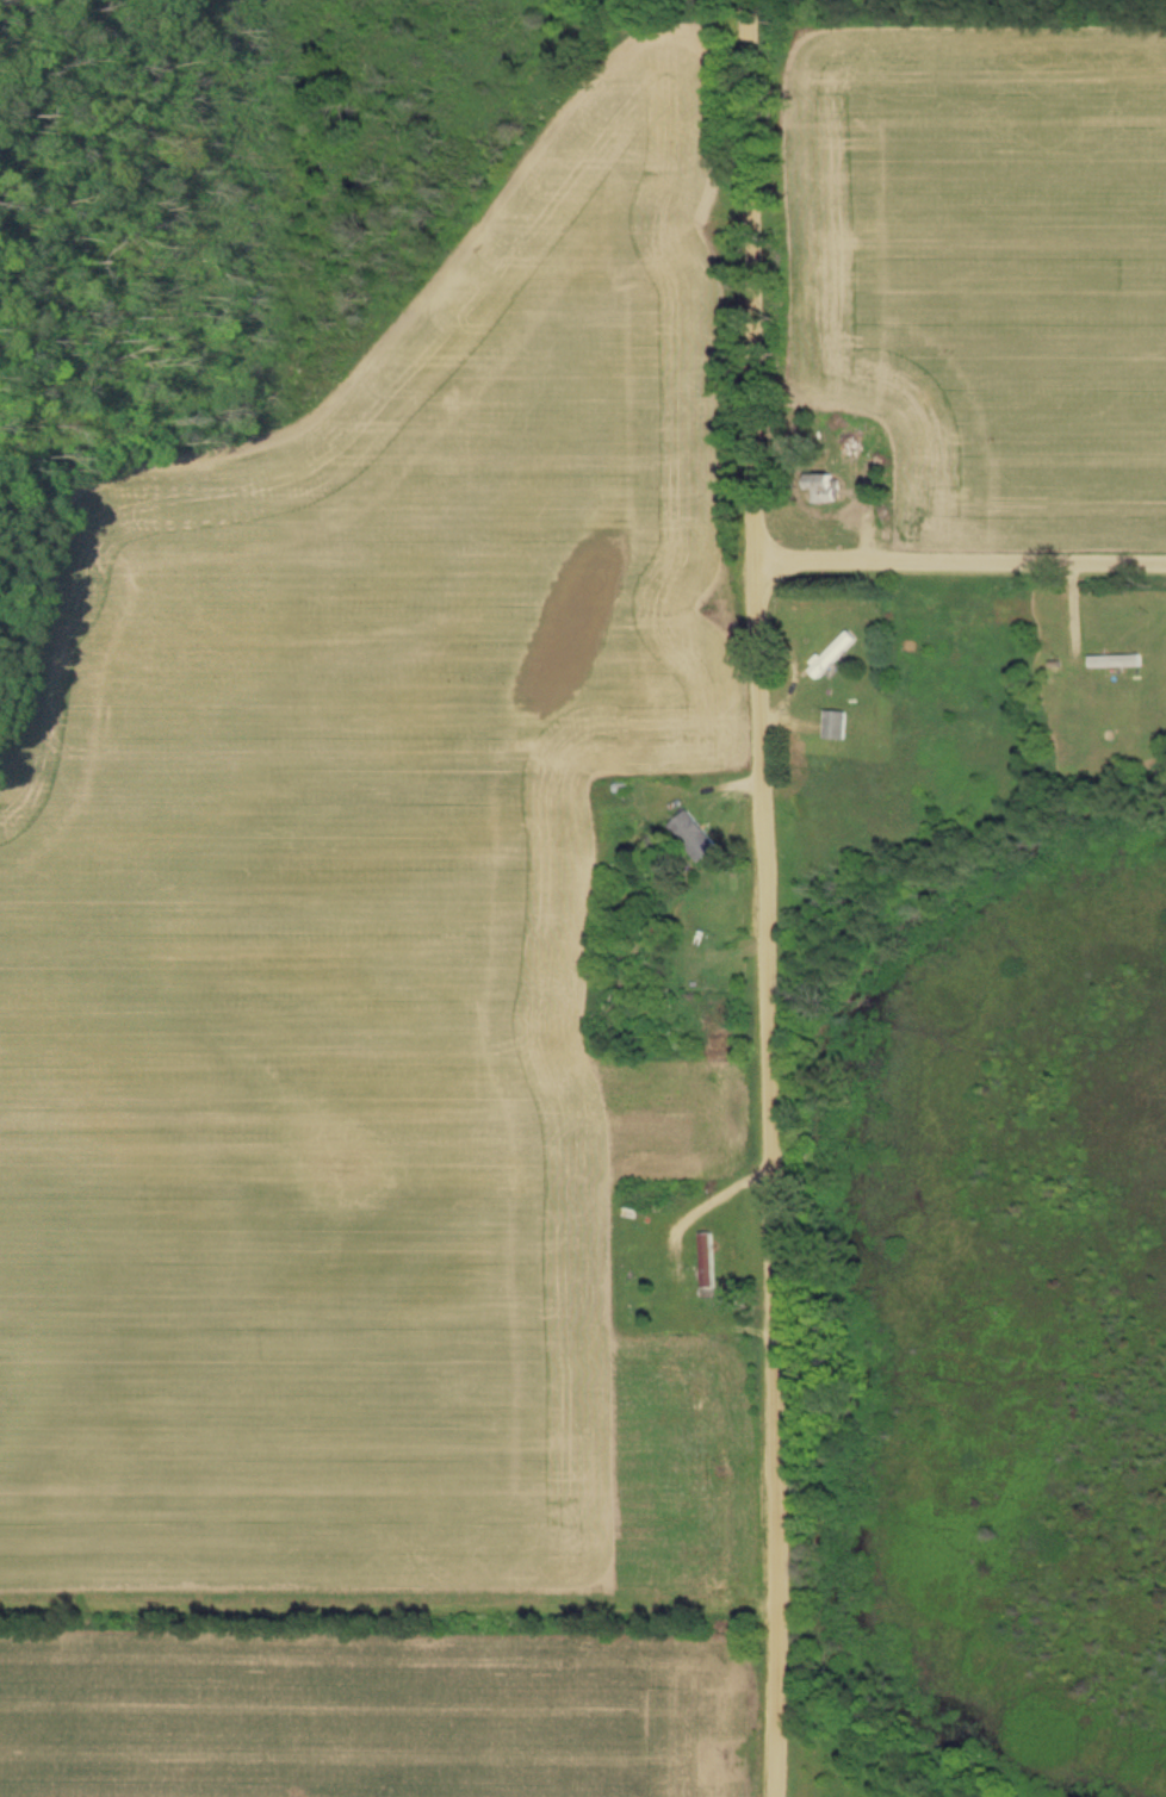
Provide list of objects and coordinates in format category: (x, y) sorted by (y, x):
crop: (997, 266)
building: (825, 489)
road: (960, 556)
building: (835, 654)
building: (1115, 661)
building: (836, 725)
building: (691, 837)
road: (761, 898)
road: (709, 1199)
building: (707, 1261)

